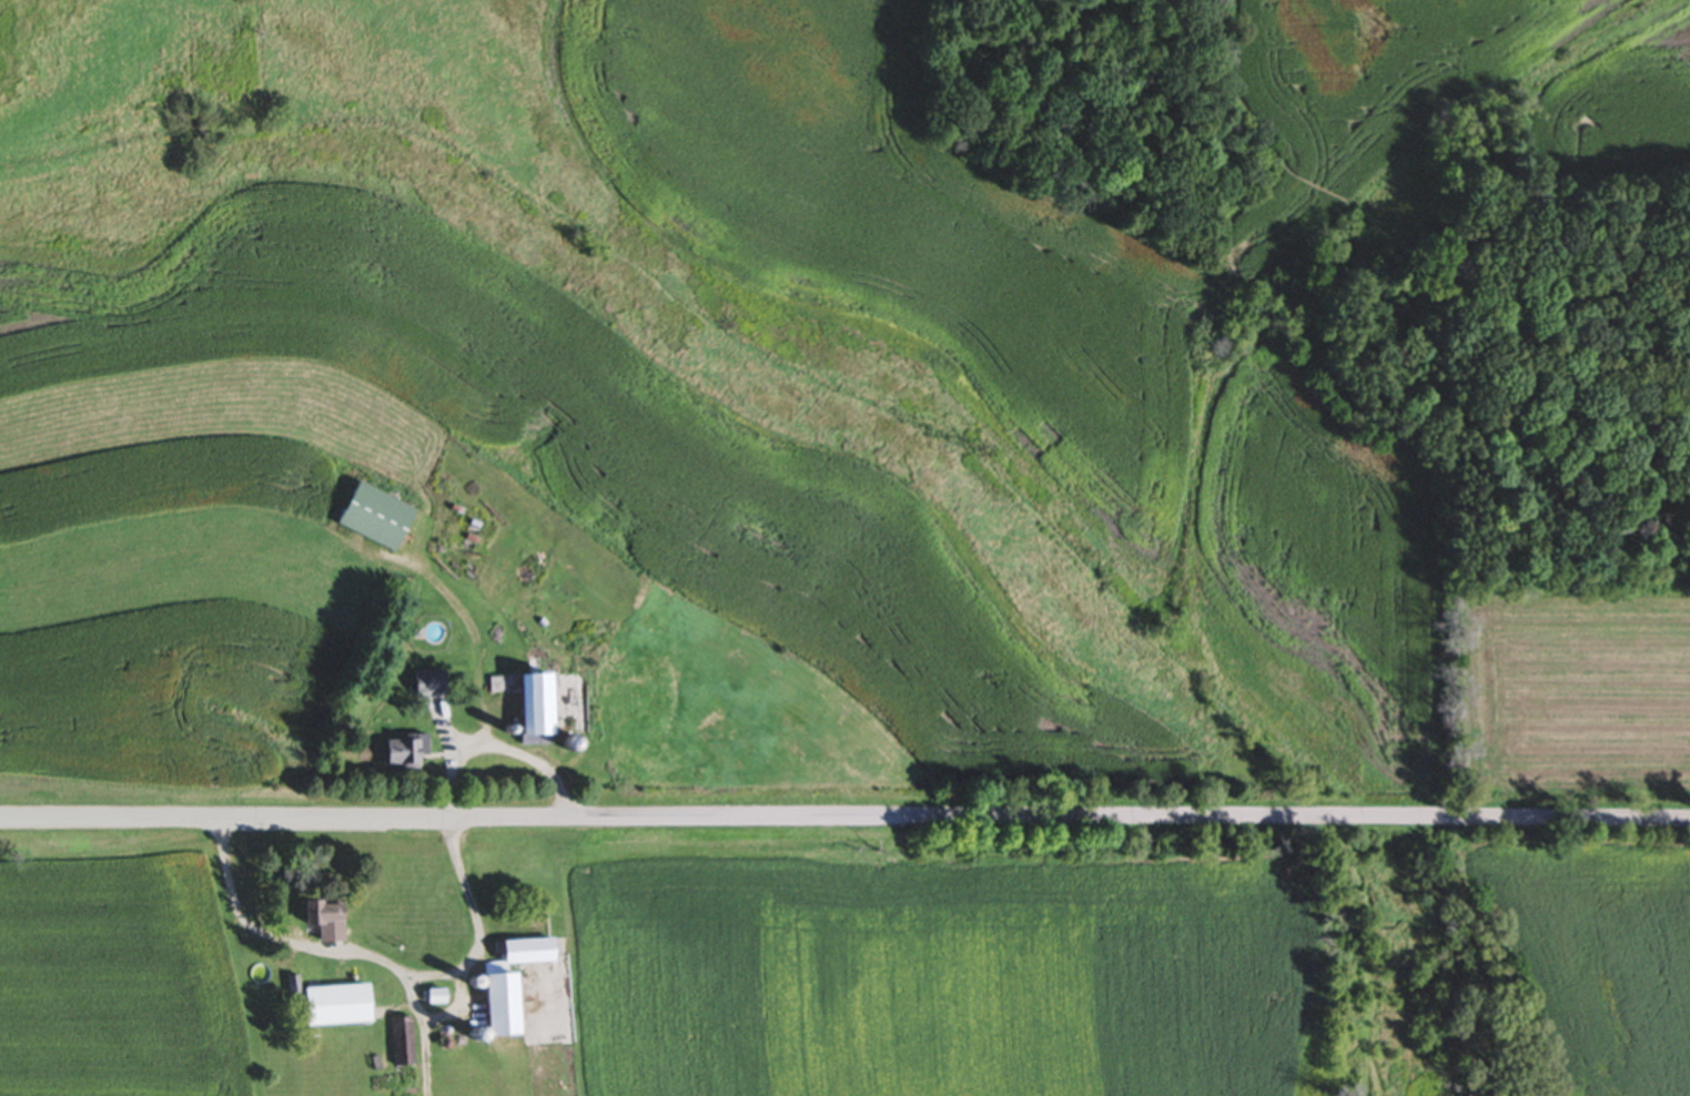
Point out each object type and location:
building: (368, 517)
building: (429, 686)
building: (520, 703)
building: (567, 744)
road: (498, 750)
building: (397, 753)
road: (844, 819)
building: (316, 923)
building: (519, 953)
road: (376, 960)
building: (331, 1007)
building: (490, 1007)
road: (435, 1016)
building: (397, 1043)

